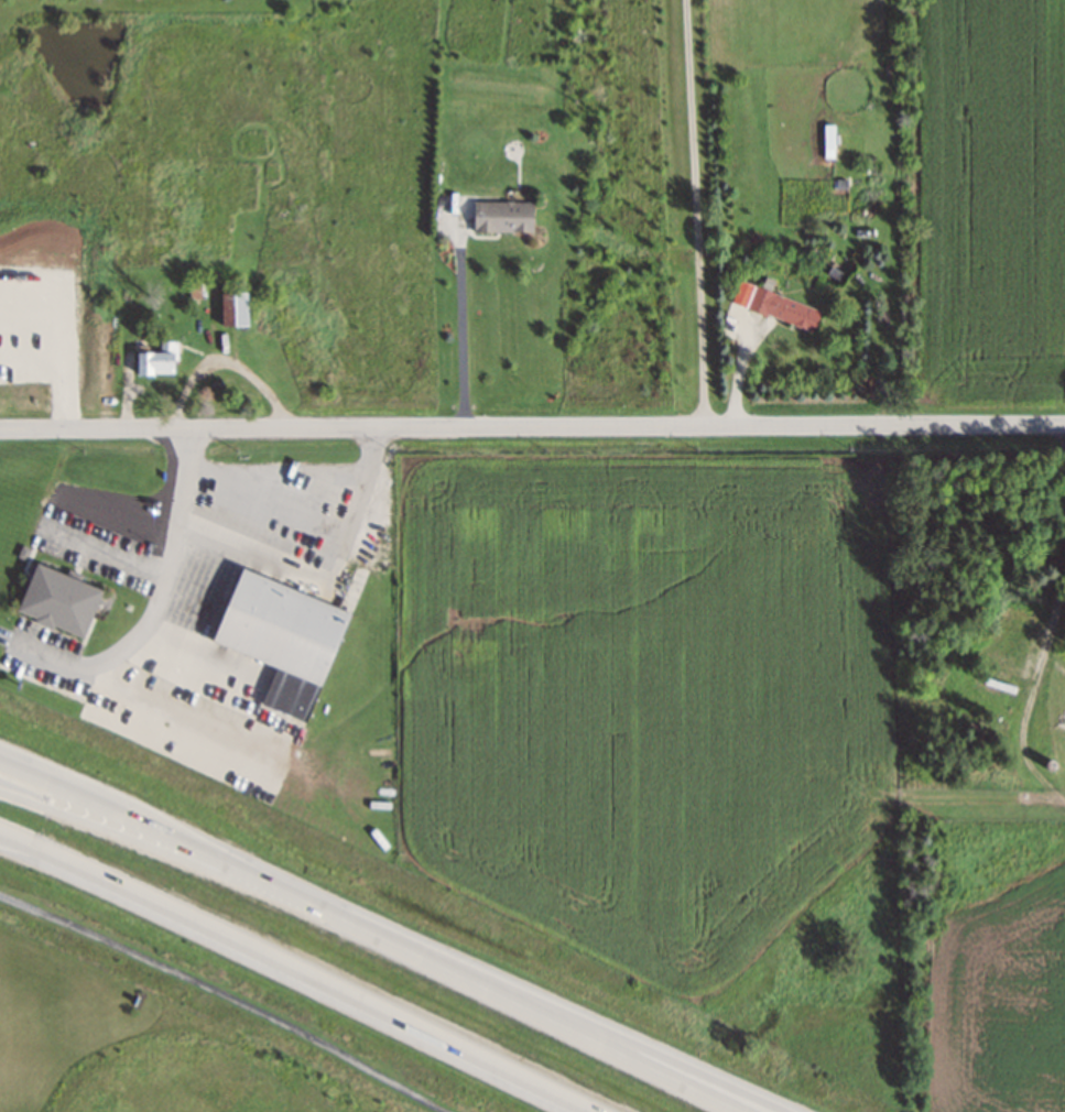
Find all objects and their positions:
building: (827, 137)
building: (501, 217)
building: (195, 288)
building: (782, 308)
building: (231, 309)
building: (157, 361)
road: (532, 426)
building: (56, 600)
building: (279, 636)
road: (199, 853)
road: (174, 855)
road: (182, 914)
road: (229, 996)
road: (570, 1028)
road: (640, 1046)
road: (478, 1056)

